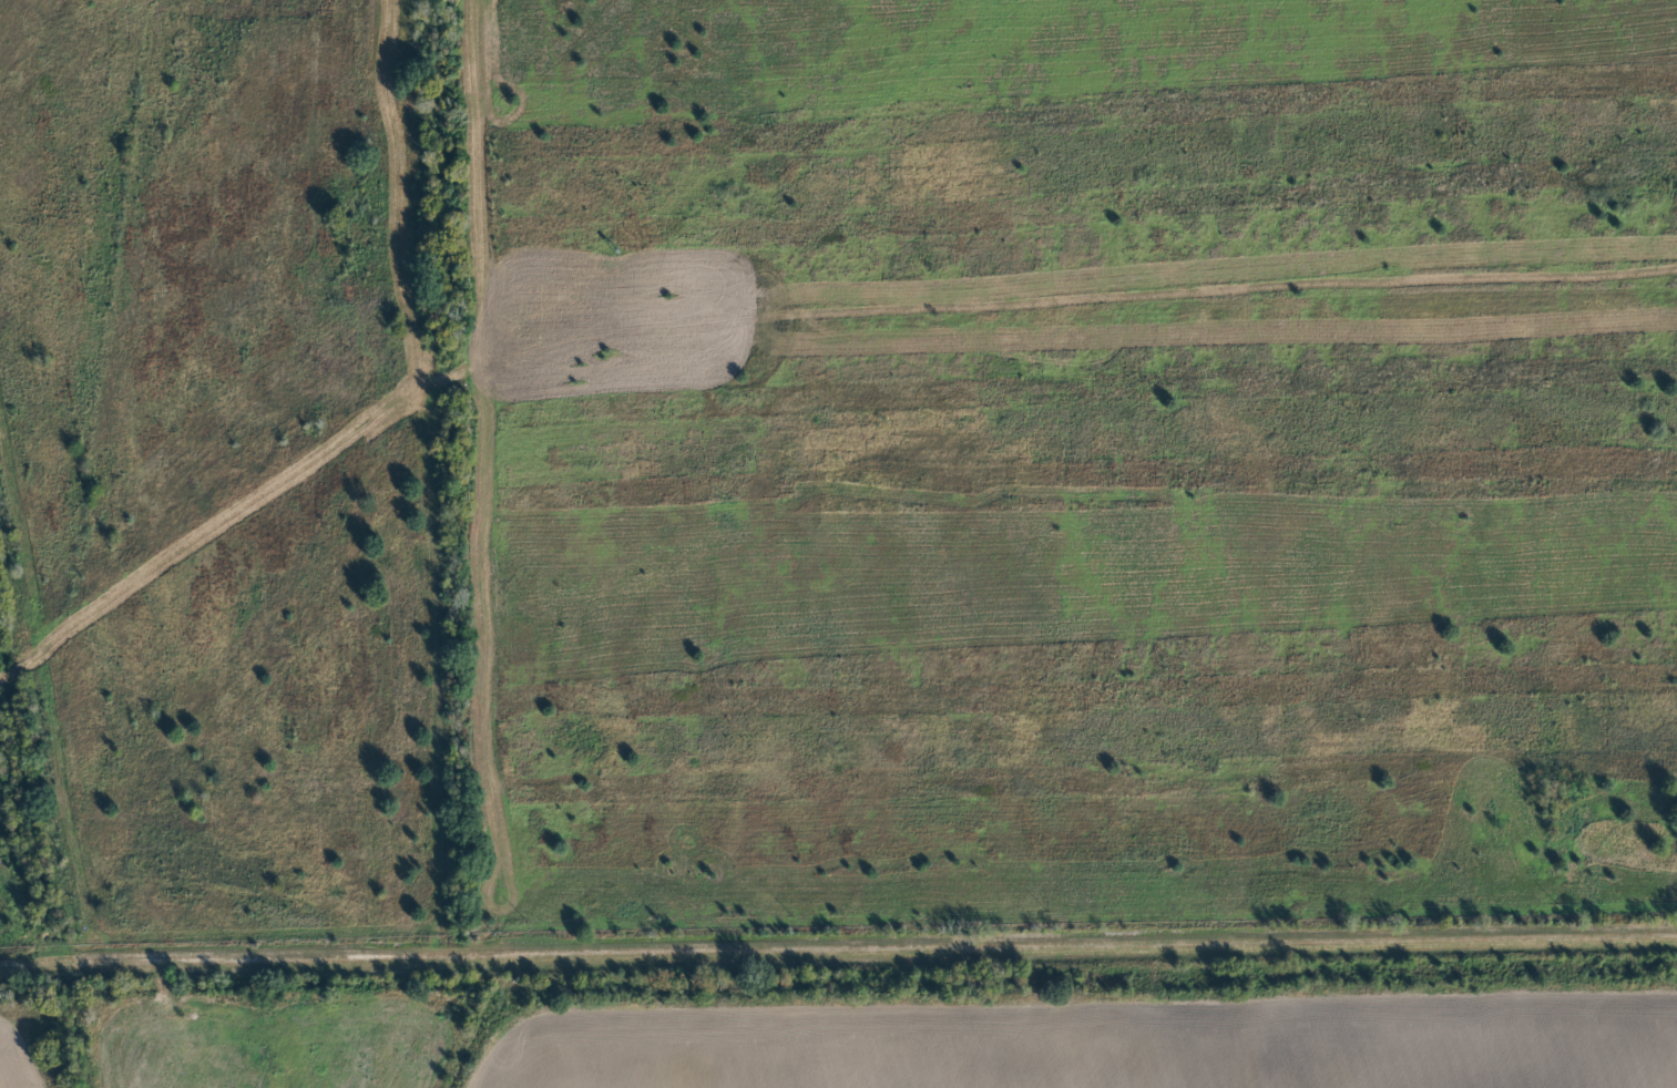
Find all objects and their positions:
road: (838, 944)

